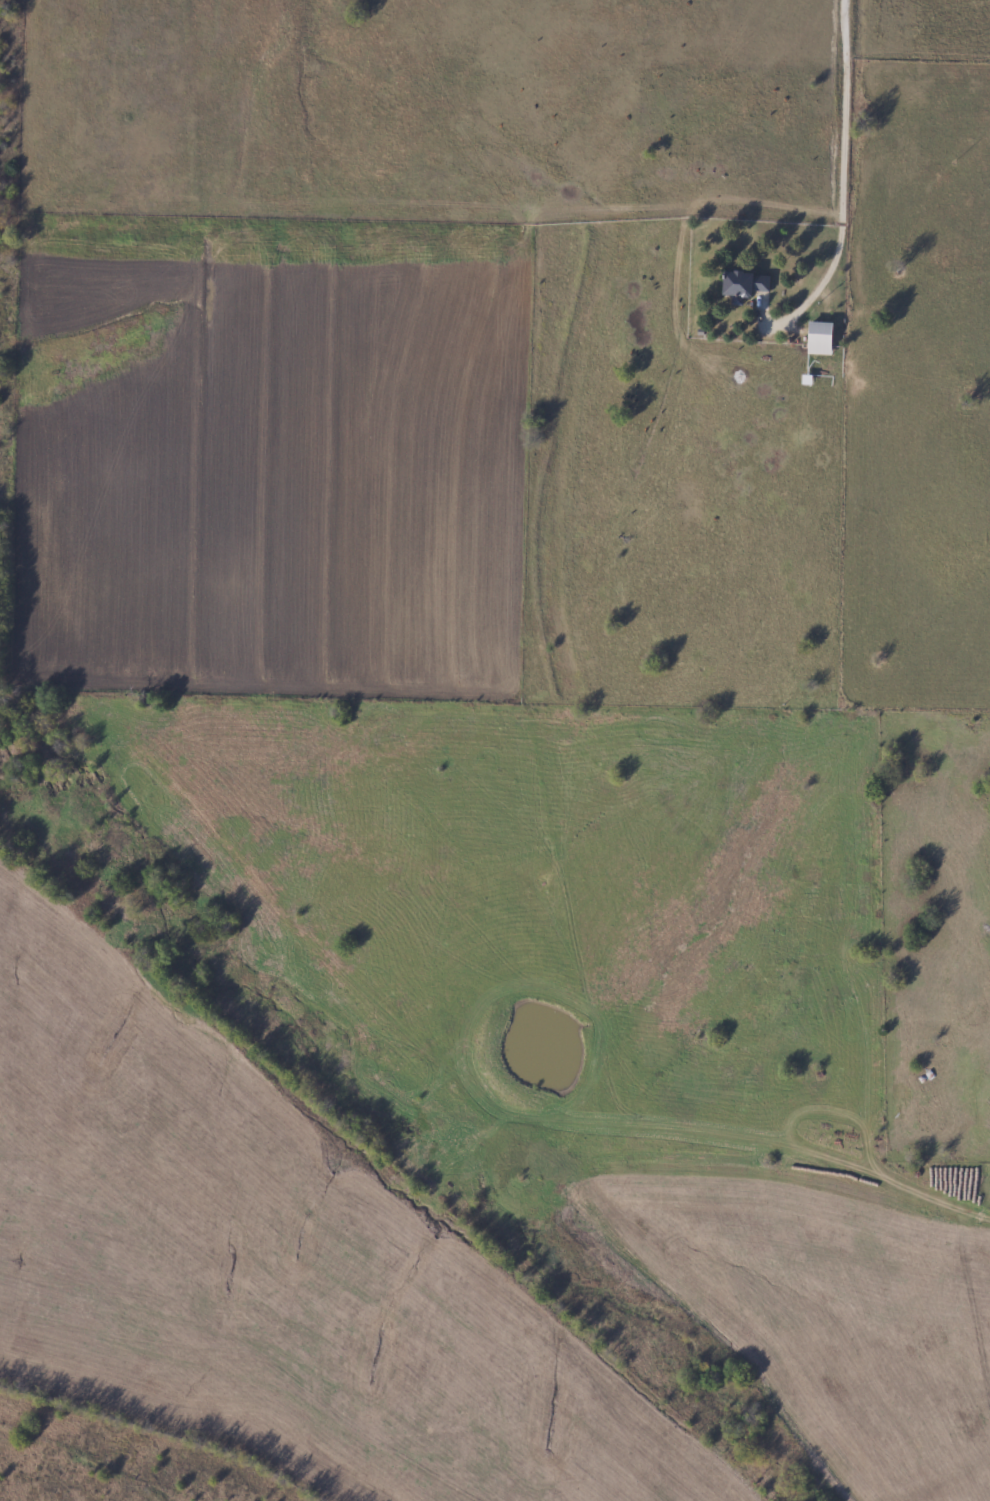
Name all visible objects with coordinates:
road: (838, 188)
building: (746, 287)
building: (821, 339)

